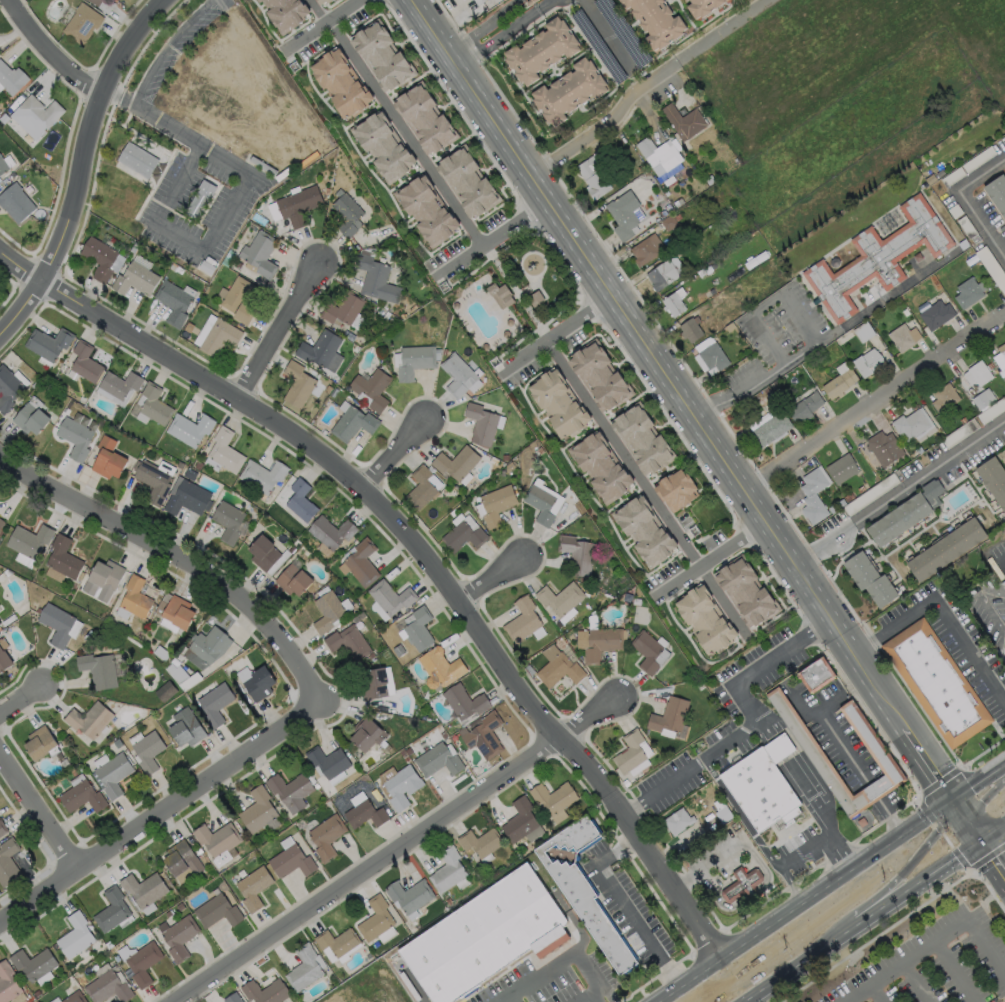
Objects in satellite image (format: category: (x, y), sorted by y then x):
building: (323, 1)
building: (477, 1)
building: (95, 2)
road: (547, 5)
building: (701, 6)
building: (284, 13)
building: (655, 21)
building: (81, 23)
road: (326, 24)
road: (484, 26)
road: (724, 31)
road: (608, 33)
road: (497, 38)
road: (165, 47)
building: (540, 51)
road: (50, 55)
building: (381, 56)
building: (10, 80)
building: (340, 83)
building: (567, 91)
road: (119, 94)
building: (34, 116)
building: (424, 119)
building: (683, 120)
road: (607, 122)
road: (399, 124)
building: (383, 147)
building: (658, 153)
building: (136, 160)
building: (2, 166)
road: (82, 170)
building: (592, 175)
building: (467, 182)
building: (996, 194)
building: (15, 202)
building: (201, 202)
road: (963, 202)
building: (298, 205)
road: (226, 210)
building: (426, 211)
building: (346, 213)
building: (622, 214)
road: (492, 241)
building: (645, 249)
building: (258, 255)
building: (99, 258)
building: (876, 258)
building: (660, 274)
building: (135, 279)
building: (376, 280)
road: (892, 292)
building: (966, 293)
building: (499, 295)
road: (517, 295)
park: (508, 296)
building: (534, 299)
building: (238, 300)
building: (672, 301)
road: (766, 301)
building: (173, 302)
road: (620, 307)
building: (343, 309)
building: (935, 314)
building: (689, 329)
road: (282, 330)
road: (559, 336)
building: (218, 337)
building: (901, 338)
building: (48, 343)
building: (321, 351)
building: (711, 356)
building: (999, 360)
building: (413, 361)
building: (84, 362)
building: (867, 363)
building: (978, 372)
building: (456, 375)
building: (598, 377)
road: (763, 377)
building: (838, 383)
building: (119, 384)
building: (297, 385)
building: (8, 388)
building: (371, 389)
building: (943, 398)
building: (982, 399)
building: (154, 405)
building: (558, 405)
road: (876, 405)
building: (804, 407)
building: (30, 419)
building: (911, 423)
building: (353, 424)
building: (480, 424)
building: (189, 429)
building: (770, 429)
building: (75, 438)
building: (641, 440)
building: (883, 448)
building: (224, 451)
road: (403, 451)
building: (108, 459)
building: (455, 463)
building: (599, 467)
building: (840, 468)
building: (261, 475)
building: (154, 479)
building: (993, 481)
building: (419, 488)
road: (650, 489)
building: (674, 492)
road: (900, 493)
building: (812, 496)
building: (186, 498)
building: (300, 501)
building: (539, 504)
building: (495, 505)
building: (904, 514)
building: (227, 521)
building: (1, 523)
building: (330, 532)
building: (643, 532)
building: (462, 537)
building: (28, 541)
road: (416, 543)
building: (944, 549)
road: (173, 553)
building: (262, 554)
building: (576, 555)
building: (61, 561)
road: (712, 562)
building: (360, 563)
building: (1004, 576)
building: (868, 580)
building: (102, 581)
building: (293, 581)
road: (498, 581)
building: (1002, 584)
building: (745, 594)
building: (389, 597)
building: (559, 599)
building: (132, 600)
building: (177, 612)
building: (328, 612)
road: (944, 618)
building: (704, 620)
building: (523, 622)
building: (0, 624)
building: (55, 624)
building: (417, 630)
building: (349, 643)
building: (597, 643)
building: (208, 645)
building: (1004, 647)
building: (1004, 649)
building: (646, 652)
building: (3, 662)
building: (439, 668)
building: (97, 670)
road: (867, 670)
building: (559, 671)
building: (814, 676)
building: (256, 682)
building: (936, 683)
building: (373, 684)
road: (26, 689)
building: (463, 702)
building: (215, 704)
building: (668, 715)
building: (88, 720)
road: (827, 721)
road: (753, 722)
road: (762, 726)
building: (186, 728)
building: (367, 734)
building: (483, 737)
building: (870, 741)
building: (38, 743)
road: (777, 749)
building: (148, 751)
building: (628, 751)
road: (928, 760)
building: (436, 761)
building: (328, 762)
building: (112, 775)
road: (978, 776)
building: (762, 785)
building: (400, 787)
building: (289, 790)
road: (874, 791)
traffic signals: (951, 795)
building: (551, 796)
building: (80, 797)
road: (41, 808)
building: (257, 810)
building: (720, 811)
road: (984, 811)
road: (160, 812)
road: (817, 812)
road: (738, 814)
building: (363, 815)
road: (889, 815)
road: (967, 817)
building: (518, 819)
building: (676, 820)
building: (2, 829)
road: (994, 833)
building: (325, 837)
building: (216, 841)
traffic signals: (983, 841)
building: (478, 842)
road: (401, 848)
road: (803, 851)
road: (994, 857)
building: (180, 859)
building: (7, 862)
building: (290, 862)
building: (446, 868)
road: (873, 880)
building: (741, 884)
road: (788, 885)
building: (252, 888)
building: (141, 889)
building: (583, 889)
building: (408, 893)
road: (803, 899)
road: (621, 902)
building: (110, 910)
building: (215, 912)
building: (374, 918)
road: (864, 921)
building: (74, 936)
building: (178, 937)
building: (486, 938)
road: (934, 941)
building: (335, 942)
building: (32, 963)
building: (142, 963)
road: (558, 963)
parking lot: (935, 964)
building: (303, 967)
road: (954, 972)
building: (7, 983)
road: (914, 983)
building: (107, 988)
building: (264, 990)
road: (875, 993)
road: (583, 996)
building: (73, 997)
building: (231, 997)

